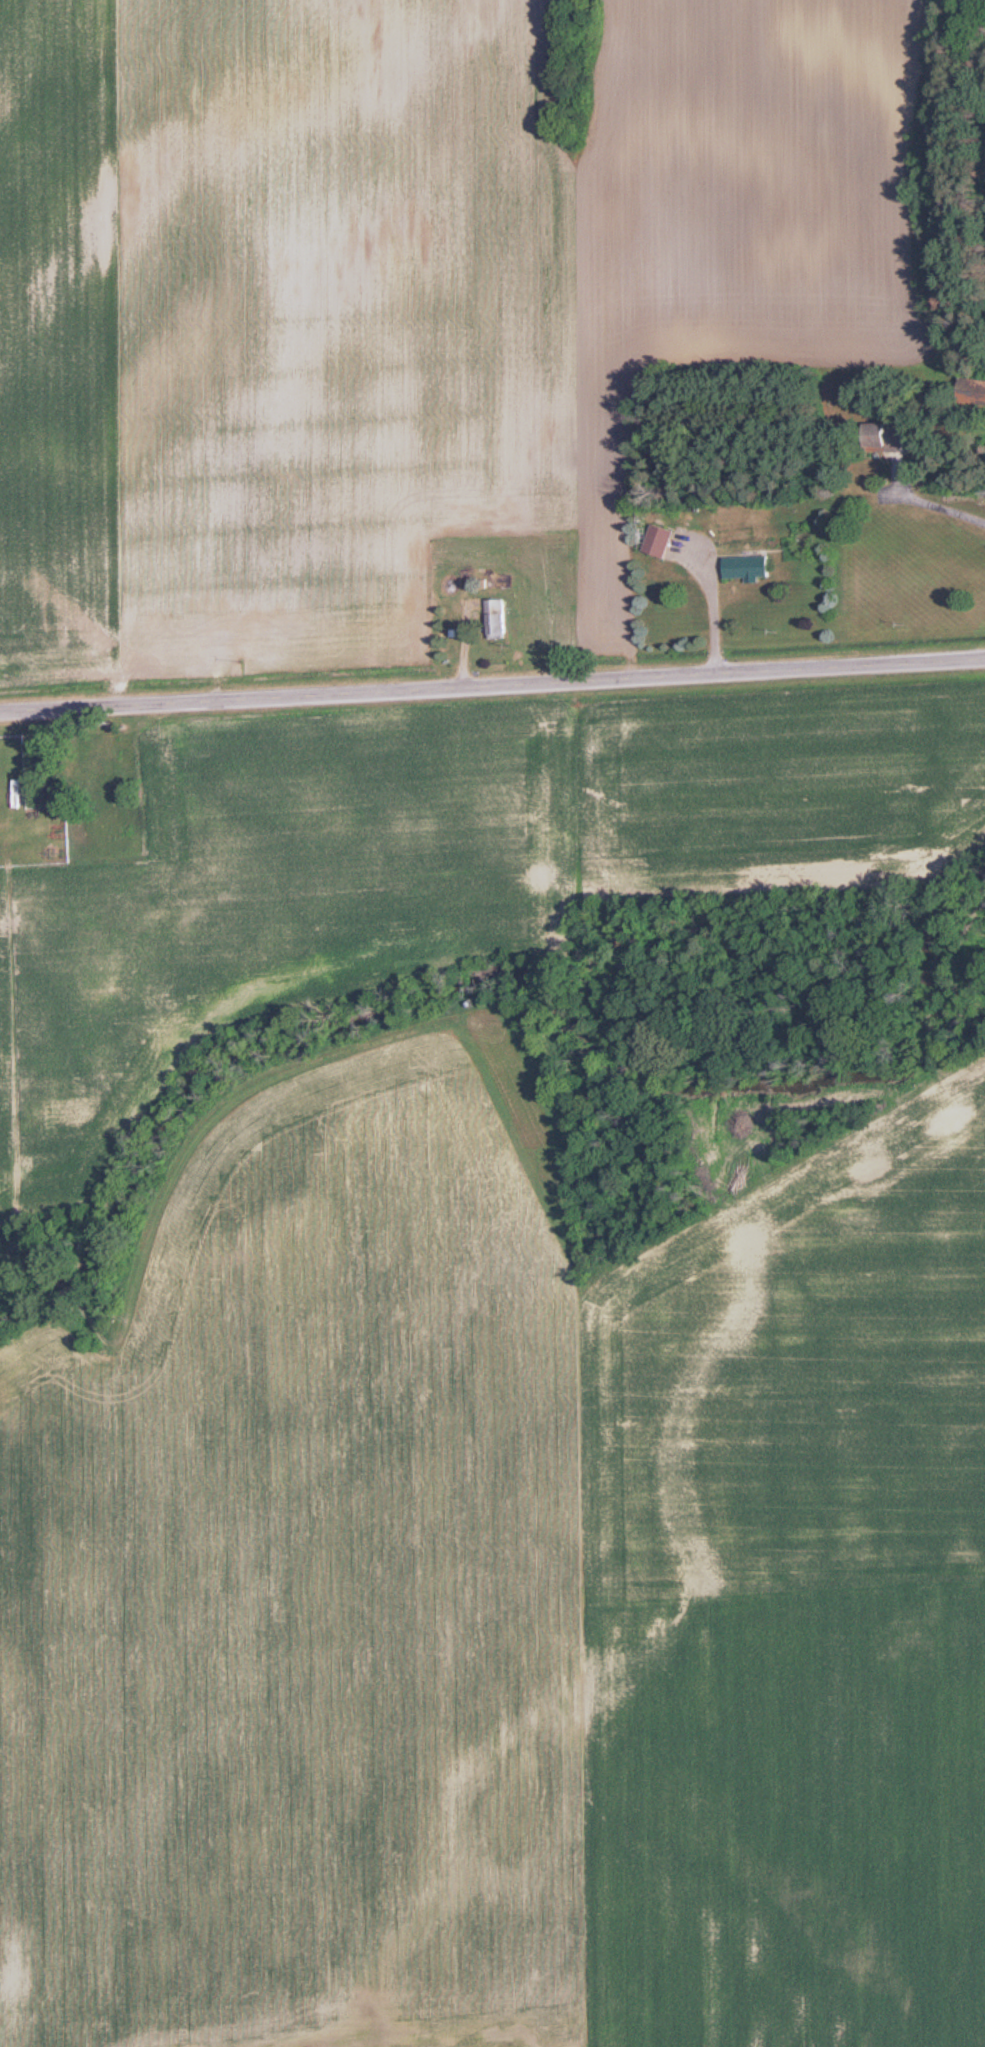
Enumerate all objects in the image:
building: (971, 390)
building: (886, 436)
road: (934, 506)
building: (658, 540)
building: (746, 567)
road: (711, 603)
building: (494, 618)
road: (492, 687)
building: (105, 772)

